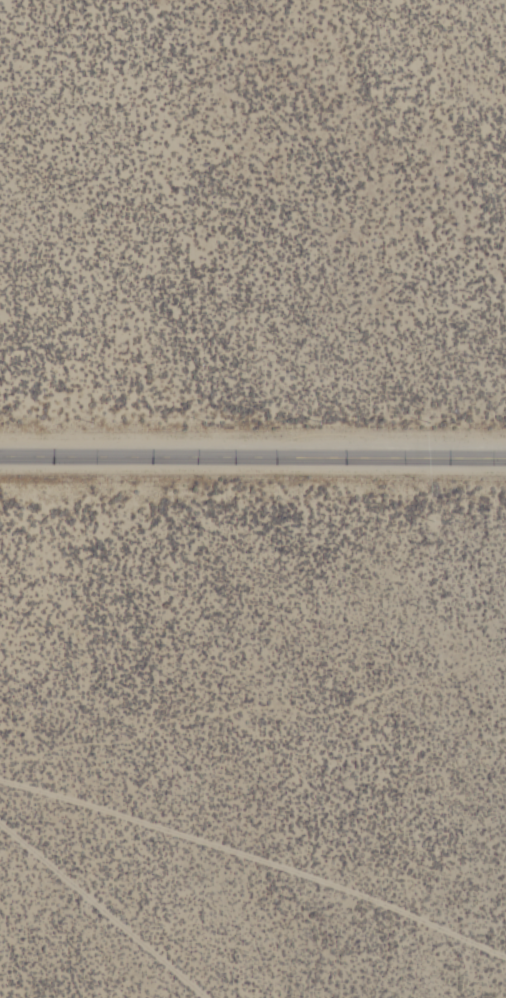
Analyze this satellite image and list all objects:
road: (253, 455)
road: (256, 854)
road: (98, 911)

